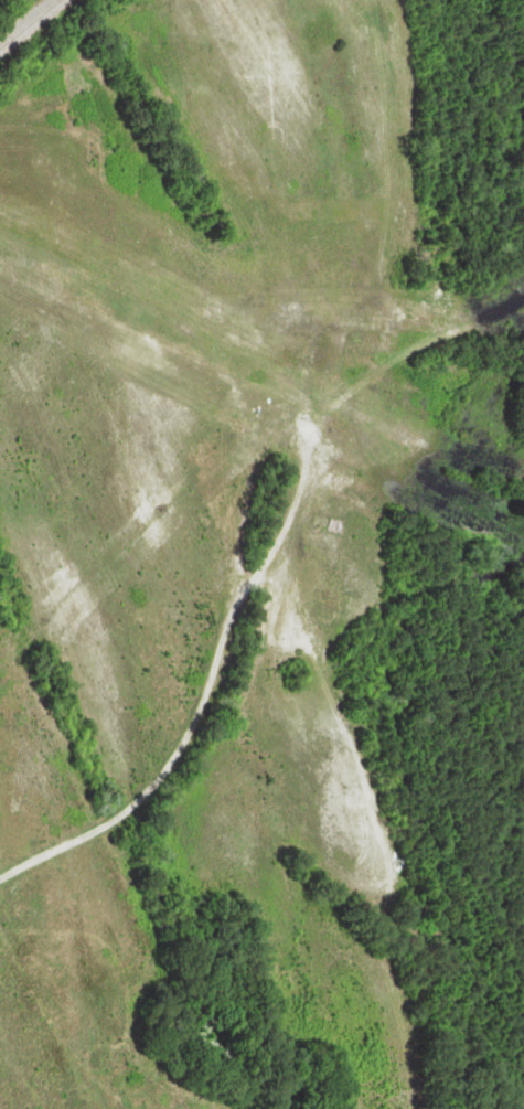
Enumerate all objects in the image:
railway: (32, 24)

